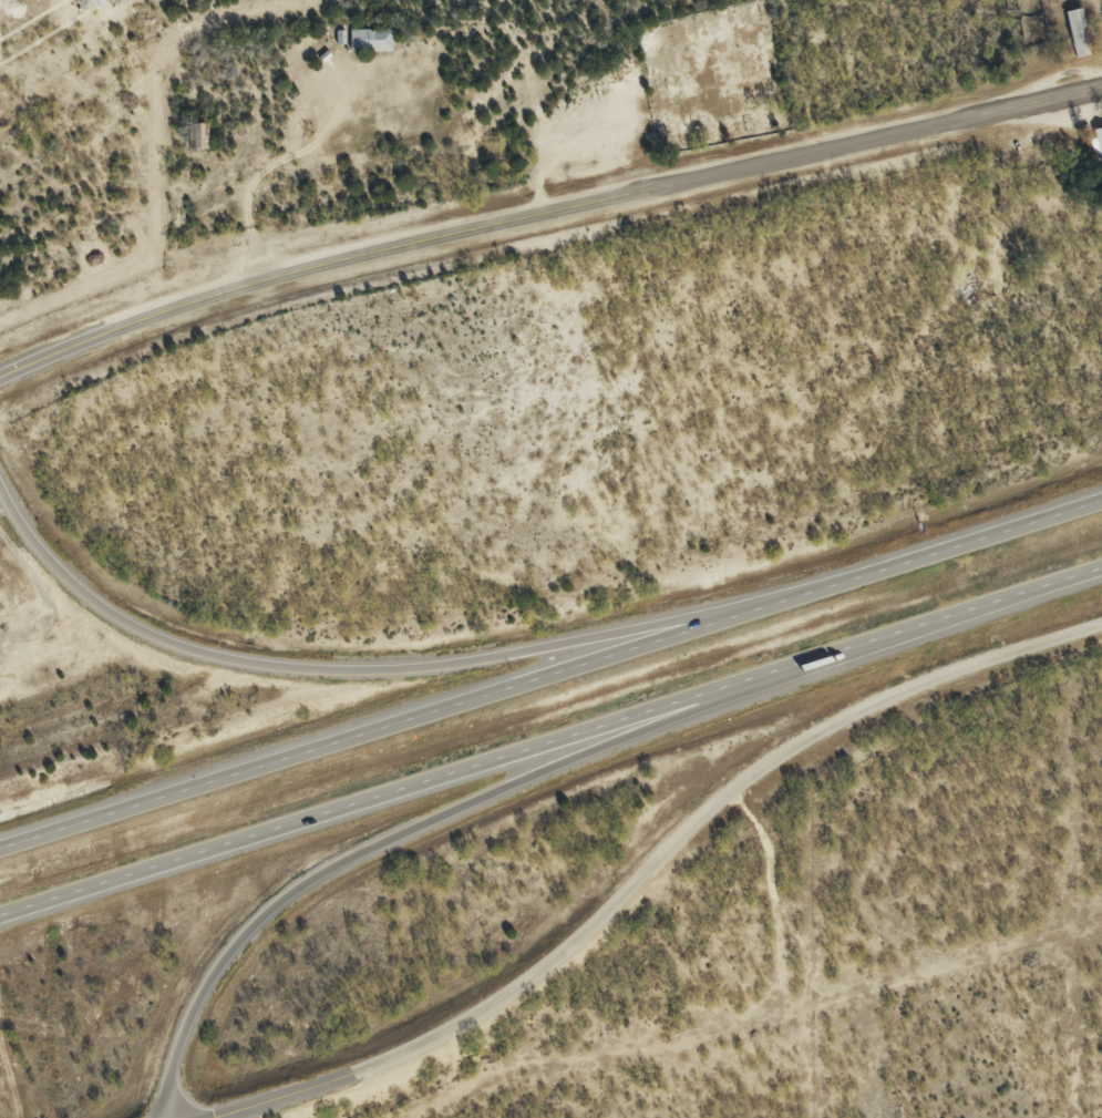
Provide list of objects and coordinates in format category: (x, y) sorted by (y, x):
power tower: (91, 1)
road: (2, 22)
building: (1078, 24)
building: (372, 40)
park: (712, 78)
building: (202, 135)
building: (1096, 145)
road: (544, 211)
road: (549, 666)
road: (327, 676)
road: (549, 741)
road: (457, 803)
road: (650, 871)

